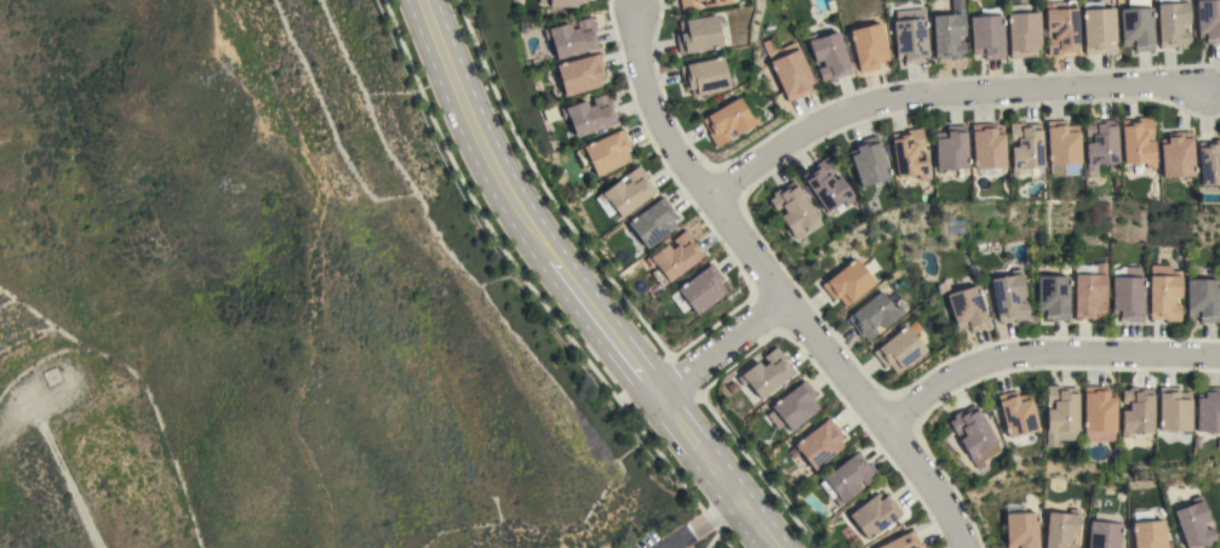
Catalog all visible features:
building: (565, 2)
building: (714, 2)
building: (688, 4)
building: (1208, 19)
building: (1172, 23)
building: (1060, 27)
building: (1096, 28)
building: (1136, 28)
building: (1021, 30)
building: (949, 33)
building: (986, 33)
building: (698, 34)
building: (572, 38)
building: (910, 40)
building: (867, 46)
building: (829, 56)
building: (789, 69)
building: (580, 74)
building: (704, 76)
road: (944, 97)
building: (589, 115)
building: (731, 119)
building: (1061, 142)
building: (1136, 142)
building: (986, 145)
building: (1099, 145)
building: (950, 148)
building: (1025, 150)
building: (605, 153)
building: (909, 154)
building: (1175, 154)
building: (867, 161)
building: (1208, 162)
building: (825, 184)
building: (628, 192)
building: (792, 207)
building: (652, 222)
building: (672, 257)
building: (848, 282)
road: (569, 287)
building: (698, 291)
road: (775, 291)
building: (1090, 293)
building: (1128, 295)
building: (1165, 296)
building: (1009, 297)
building: (1053, 297)
building: (1202, 298)
building: (967, 308)
building: (874, 315)
building: (899, 349)
road: (720, 350)
road: (1041, 356)
building: (766, 373)
building: (51, 376)
building: (794, 406)
building: (1098, 409)
building: (1173, 409)
building: (1135, 411)
building: (1208, 411)
building: (1016, 413)
building: (1060, 415)
building: (973, 435)
building: (819, 444)
building: (847, 479)
building: (875, 514)
road: (699, 524)
building: (1193, 524)
building: (1020, 527)
building: (1061, 529)
building: (1104, 531)
building: (1147, 531)
building: (904, 542)
road: (717, 544)

